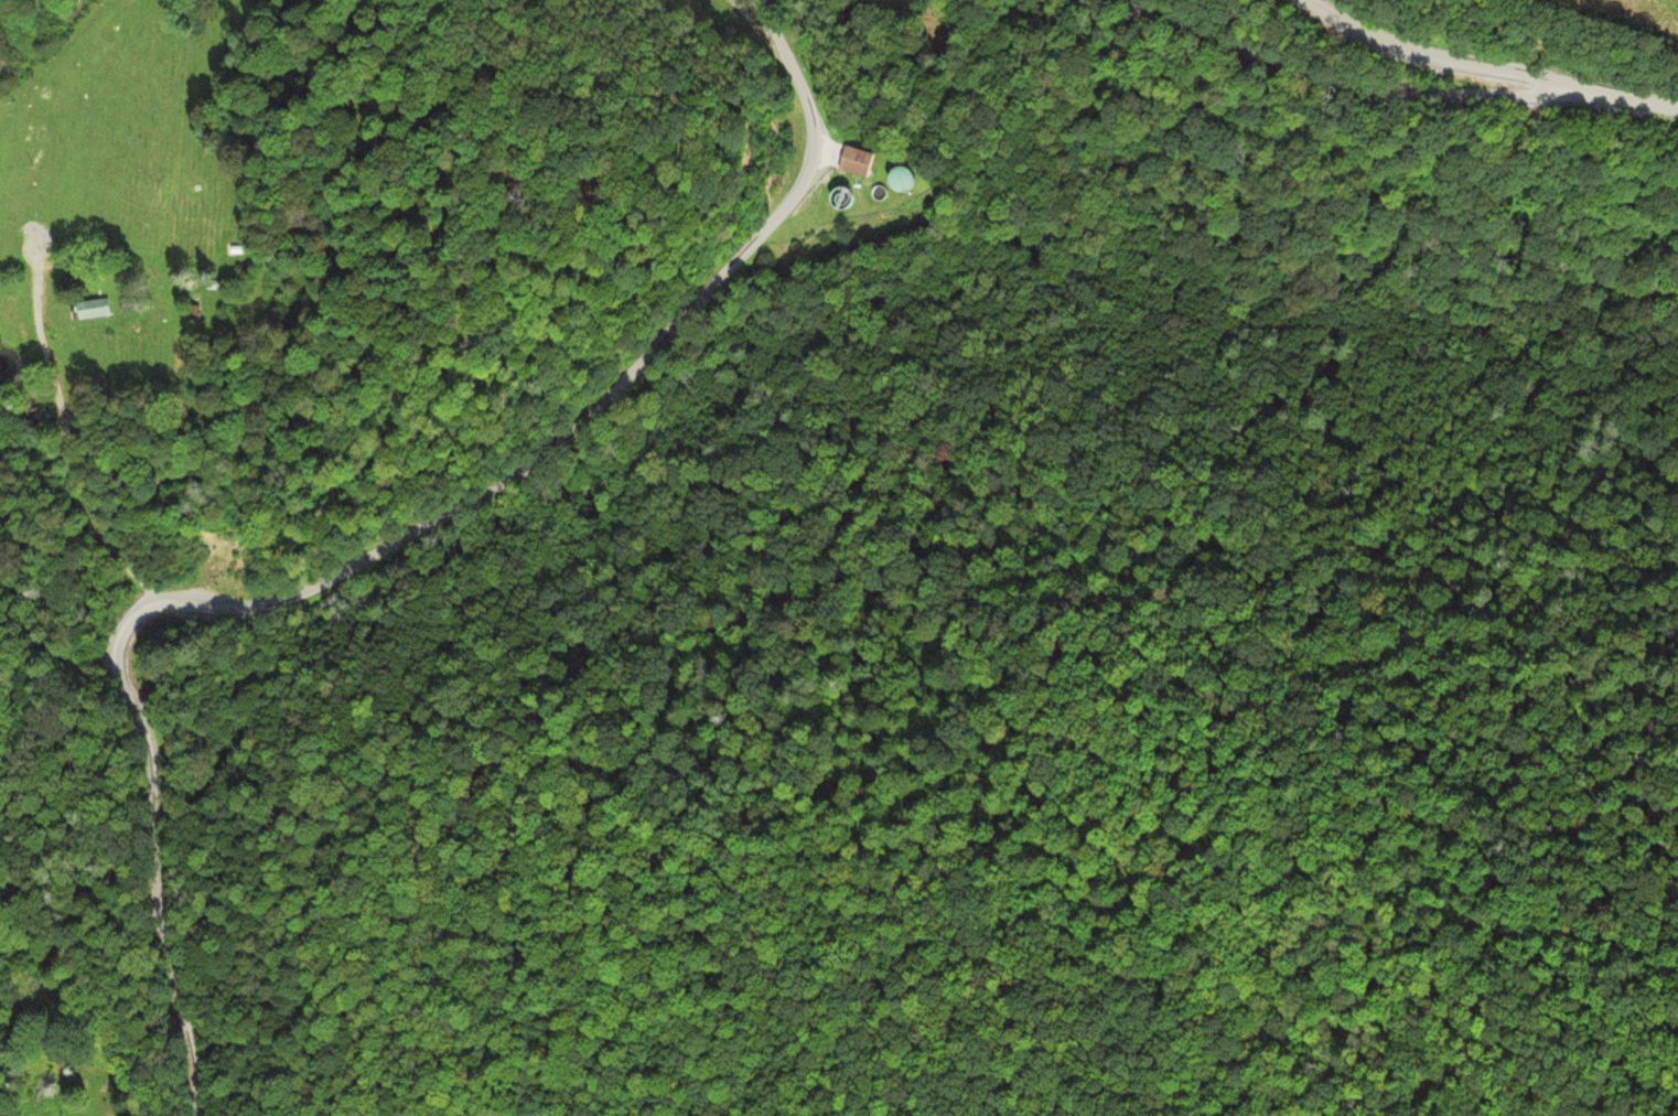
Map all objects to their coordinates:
road: (1437, 53)
road: (1348, 78)
road: (1628, 97)
building: (863, 161)
building: (910, 180)
building: (96, 310)
road: (84, 428)
road: (373, 551)

